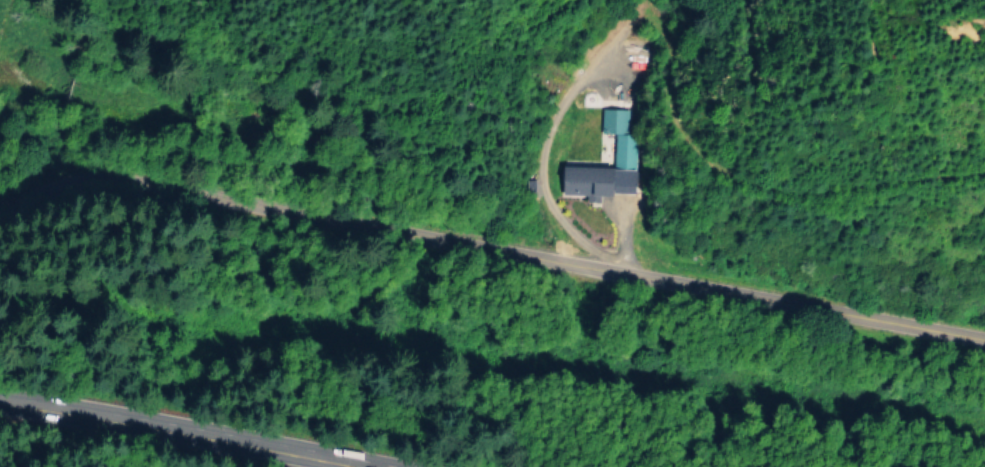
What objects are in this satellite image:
building: (620, 147)
road: (493, 246)
road: (205, 422)
road: (400, 466)

